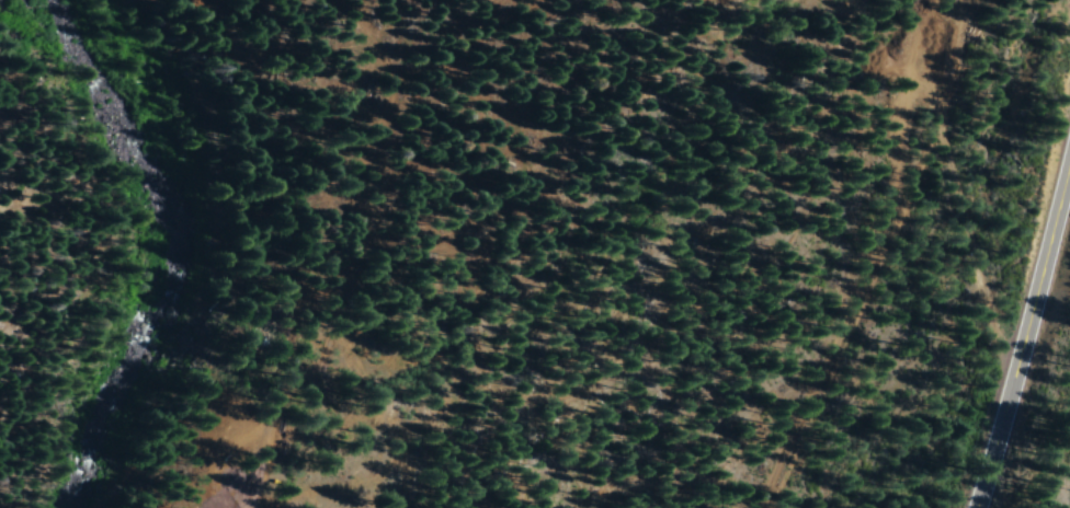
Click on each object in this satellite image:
road: (1022, 323)

